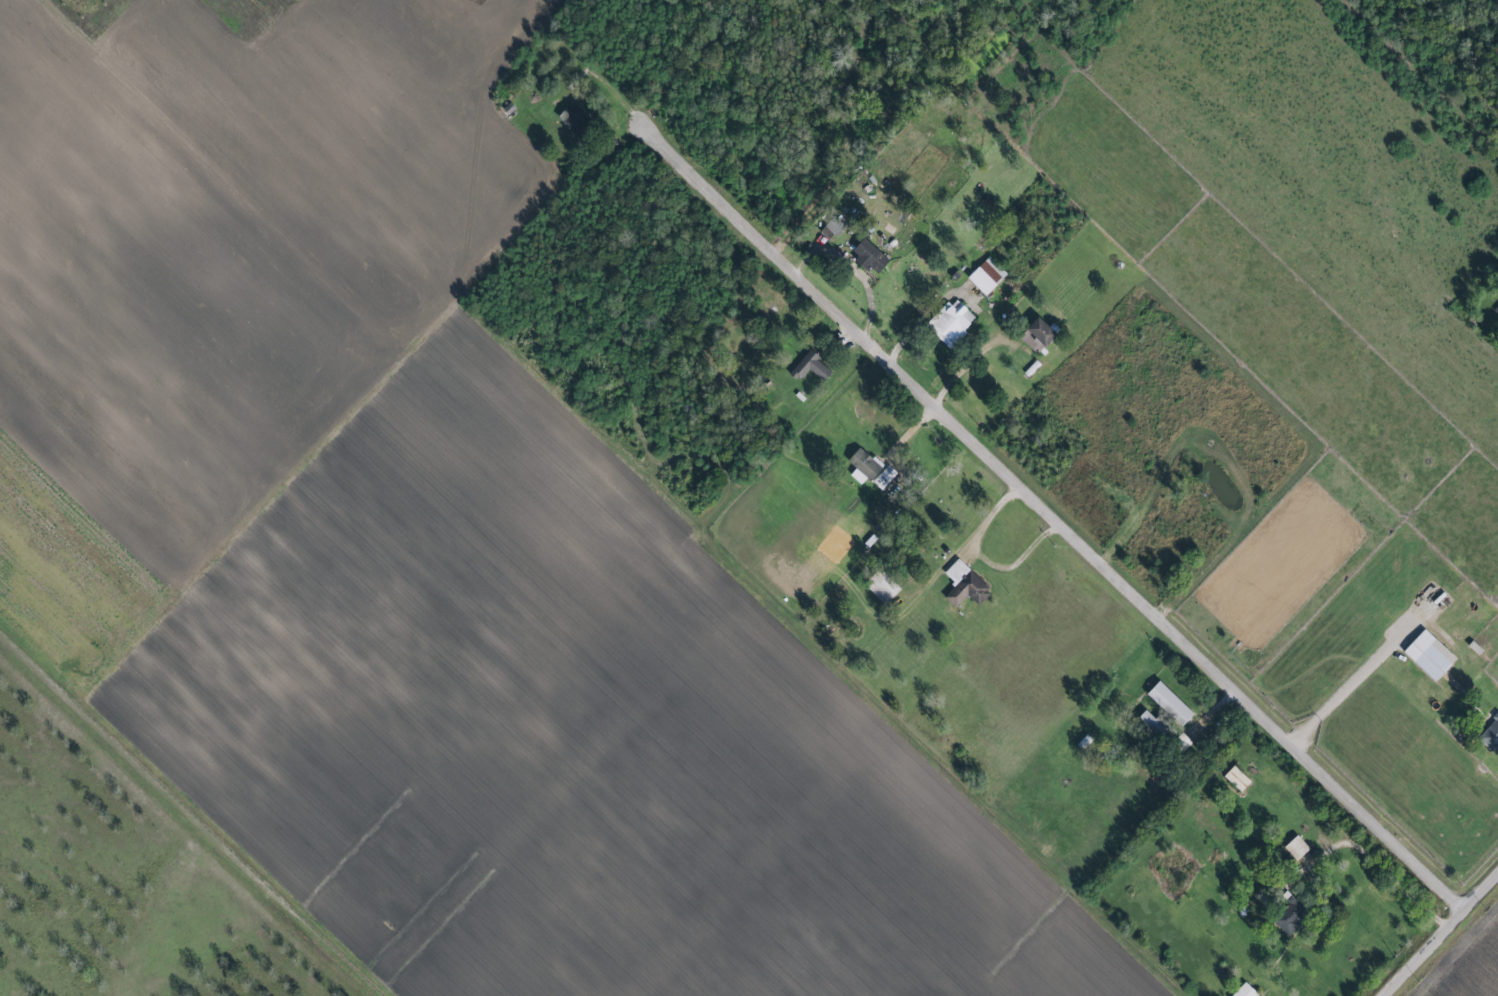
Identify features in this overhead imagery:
road: (602, 83)
building: (575, 118)
building: (830, 228)
building: (866, 256)
building: (984, 276)
building: (1495, 311)
building: (948, 322)
road: (918, 323)
building: (1034, 335)
road: (962, 366)
building: (808, 367)
building: (860, 466)
building: (881, 477)
road: (1048, 516)
road: (965, 544)
road: (1014, 564)
building: (962, 585)
building: (1426, 655)
road: (1349, 687)
building: (1166, 703)
building: (1145, 719)
building: (1489, 735)
building: (1234, 779)
building: (1293, 848)
road: (1374, 863)
building: (1288, 917)
road: (1439, 935)
building: (1242, 991)

